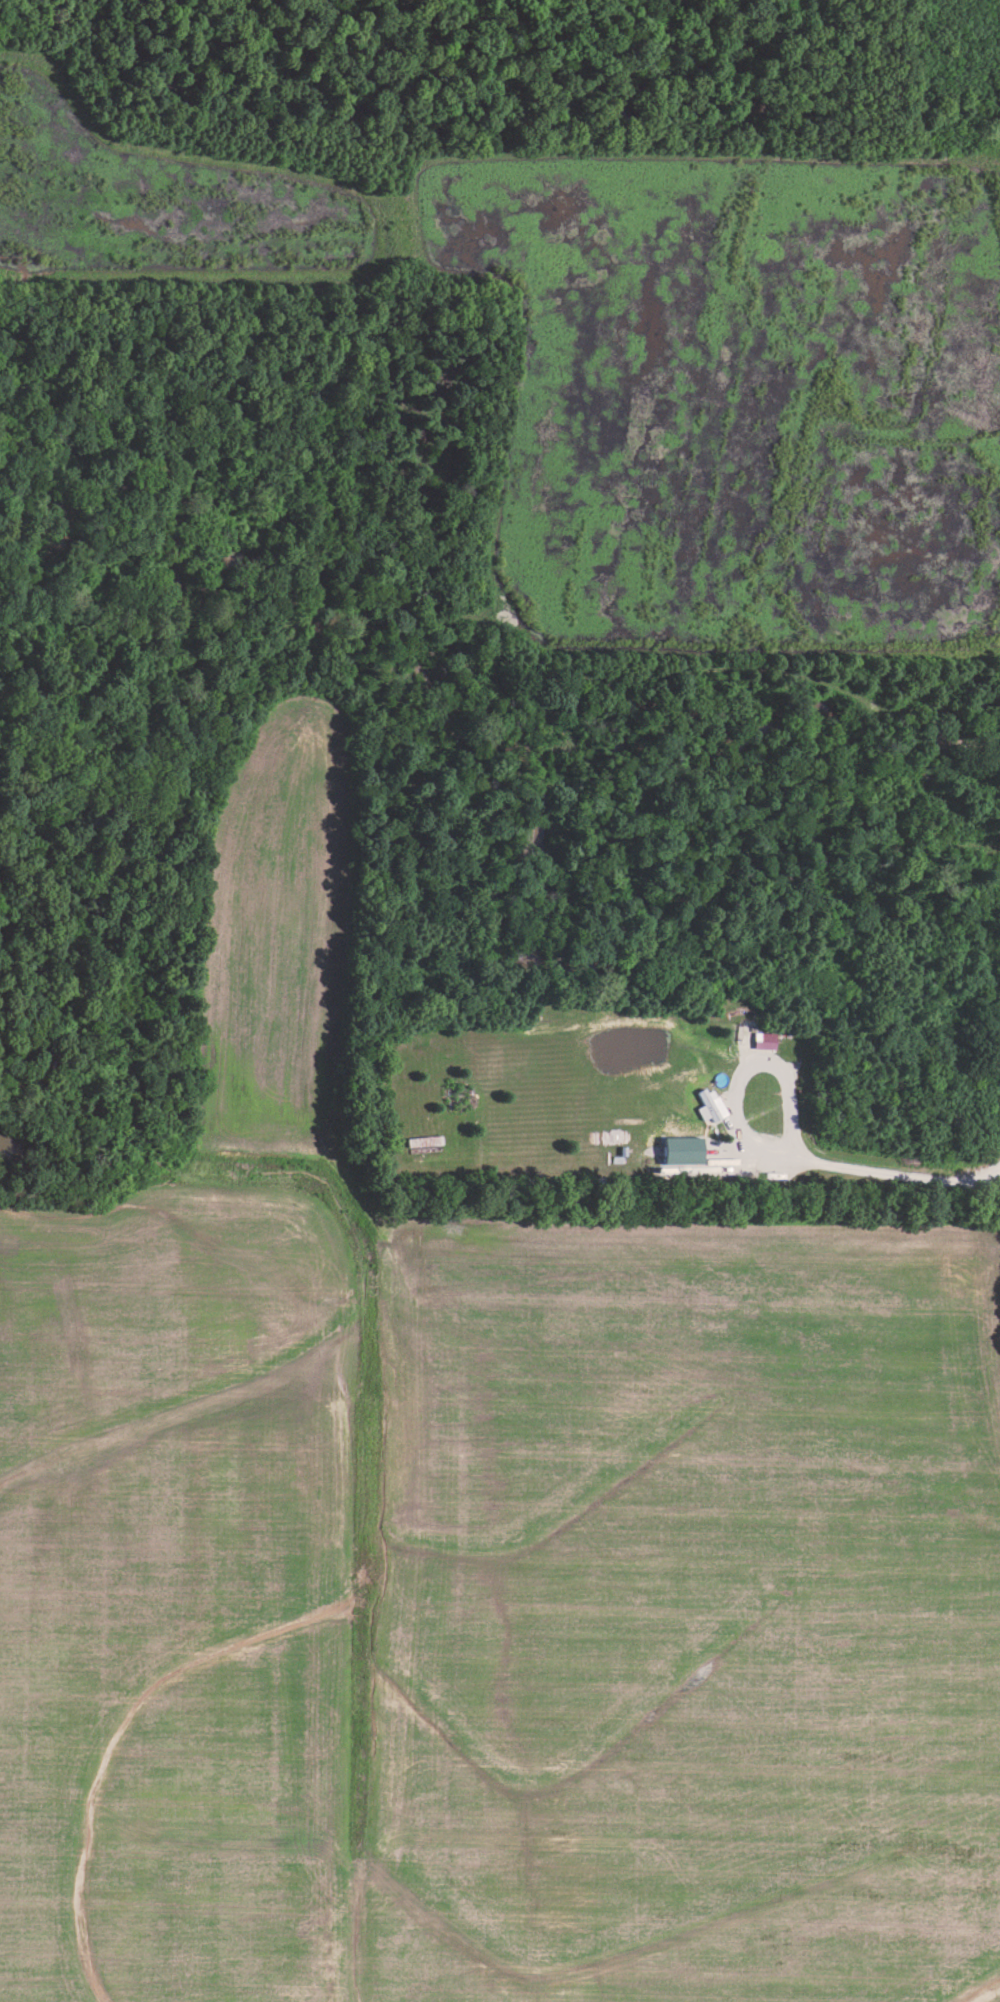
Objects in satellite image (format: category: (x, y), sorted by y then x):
building: (764, 1037)
road: (748, 1062)
building: (709, 1102)
building: (680, 1149)
road: (895, 1171)

